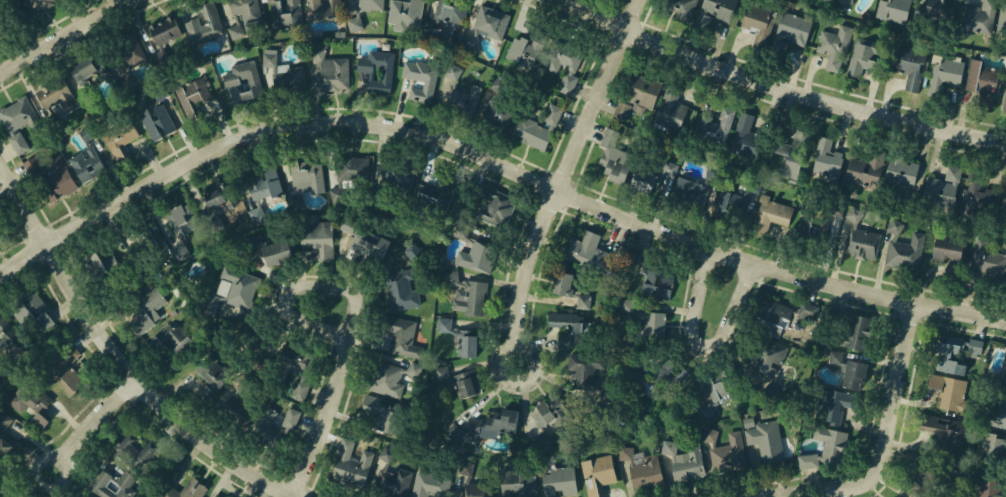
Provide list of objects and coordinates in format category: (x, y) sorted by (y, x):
building: (832, 0)
building: (844, 1)
building: (36, 5)
building: (677, 5)
building: (370, 6)
building: (320, 8)
building: (719, 9)
building: (280, 10)
building: (406, 10)
building: (893, 10)
building: (248, 11)
building: (941, 11)
building: (442, 14)
building: (1002, 16)
building: (977, 17)
building: (486, 19)
building: (757, 22)
building: (159, 26)
building: (204, 27)
building: (793, 28)
building: (232, 32)
building: (435, 35)
road: (64, 36)
building: (468, 43)
building: (833, 47)
building: (542, 48)
building: (114, 51)
building: (860, 55)
building: (127, 59)
building: (286, 65)
building: (911, 67)
building: (80, 69)
building: (570, 70)
building: (949, 71)
building: (418, 72)
building: (450, 72)
building: (238, 73)
building: (330, 74)
building: (376, 74)
building: (982, 82)
building: (497, 85)
road: (781, 85)
building: (51, 90)
building: (87, 97)
building: (194, 98)
building: (636, 99)
building: (464, 100)
building: (1004, 103)
building: (172, 108)
building: (669, 112)
building: (14, 113)
building: (495, 114)
building: (157, 123)
building: (539, 129)
building: (711, 132)
building: (744, 138)
building: (123, 142)
building: (19, 143)
building: (795, 154)
building: (826, 157)
building: (613, 160)
building: (85, 165)
building: (34, 167)
building: (865, 168)
road: (521, 171)
building: (900, 172)
building: (360, 173)
building: (652, 175)
building: (305, 176)
building: (398, 179)
road: (565, 179)
building: (259, 184)
building: (51, 187)
building: (942, 187)
building: (686, 189)
building: (975, 195)
building: (215, 197)
building: (735, 199)
building: (436, 201)
building: (1005, 208)
building: (835, 209)
building: (499, 212)
building: (256, 215)
building: (772, 215)
building: (174, 219)
building: (817, 222)
building: (370, 233)
building: (315, 236)
building: (860, 236)
building: (365, 245)
building: (902, 247)
building: (139, 248)
building: (267, 248)
building: (948, 248)
building: (592, 251)
building: (179, 253)
building: (413, 254)
building: (476, 258)
building: (988, 259)
road: (25, 261)
building: (97, 268)
building: (656, 276)
building: (1005, 284)
road: (305, 286)
building: (403, 291)
building: (245, 292)
building: (569, 292)
building: (476, 301)
building: (207, 307)
building: (147, 310)
building: (29, 311)
building: (780, 315)
building: (644, 320)
building: (443, 324)
building: (565, 327)
building: (399, 332)
building: (853, 332)
building: (253, 335)
building: (167, 339)
building: (12, 342)
building: (464, 344)
road: (698, 346)
building: (956, 351)
road: (121, 354)
building: (293, 362)
building: (770, 362)
building: (1002, 367)
building: (584, 368)
building: (847, 368)
building: (62, 369)
building: (211, 373)
building: (459, 378)
building: (660, 378)
building: (390, 382)
building: (718, 388)
building: (297, 389)
building: (948, 390)
building: (30, 404)
building: (833, 404)
building: (996, 409)
building: (239, 410)
building: (381, 413)
building: (289, 417)
building: (548, 417)
building: (3, 420)
road: (329, 420)
building: (266, 421)
building: (491, 423)
road: (94, 424)
building: (452, 430)
building: (944, 430)
building: (764, 437)
road: (884, 442)
building: (824, 448)
building: (993, 448)
building: (132, 449)
building: (724, 451)
building: (353, 461)
building: (683, 461)
building: (642, 469)
building: (598, 473)
building: (389, 476)
building: (557, 479)
building: (929, 480)
building: (431, 482)
building: (509, 483)
building: (474, 484)
building: (111, 485)
building: (169, 487)
building: (988, 488)
building: (6, 493)

